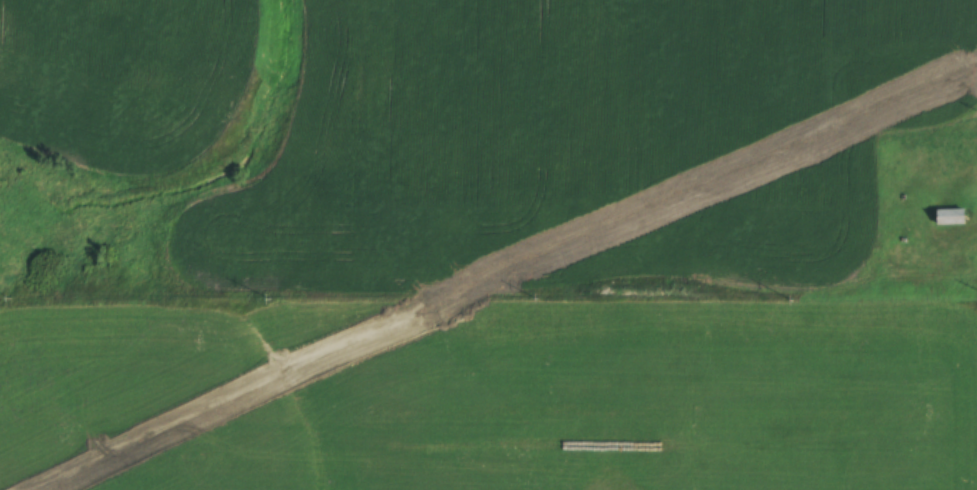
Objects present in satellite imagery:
building: (951, 218)

